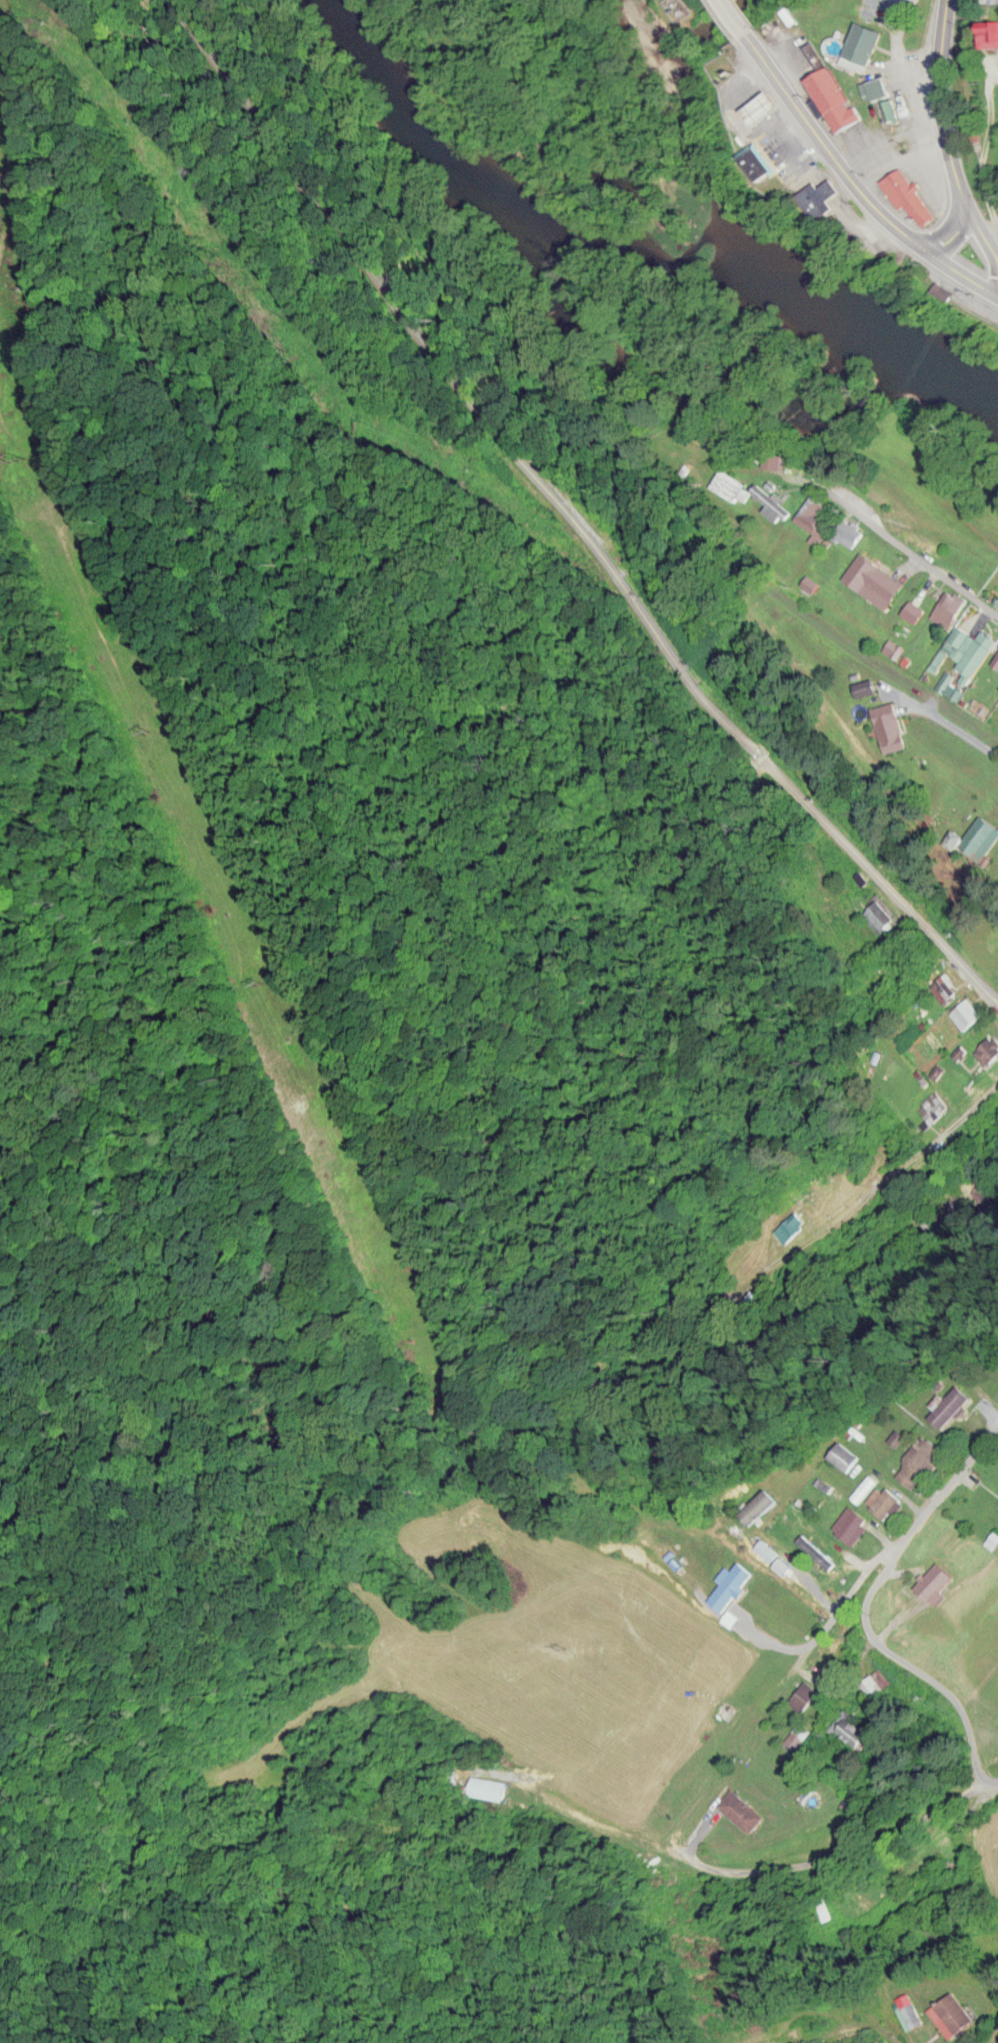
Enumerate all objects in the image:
building: (990, 33)
road: (898, 49)
building: (863, 51)
building: (815, 53)
building: (876, 87)
road: (935, 92)
building: (836, 108)
building: (764, 117)
gas station: (764, 117)
road: (820, 137)
building: (760, 161)
building: (910, 193)
building: (821, 196)
road: (976, 220)
road: (959, 223)
river: (631, 243)
road: (967, 273)
building: (774, 502)
building: (814, 512)
road: (534, 528)
building: (851, 532)
road: (914, 548)
building: (875, 575)
building: (951, 607)
building: (972, 648)
building: (890, 727)
building: (979, 837)
building: (880, 913)
building: (947, 987)
building: (969, 1013)
building: (991, 1048)
building: (936, 1107)
road: (863, 1201)
building: (793, 1225)
building: (952, 1405)
building: (845, 1455)
building: (920, 1461)
building: (886, 1501)
building: (759, 1509)
building: (852, 1523)
building: (768, 1549)
building: (940, 1582)
building: (733, 1584)
road: (872, 1621)
power tower: (564, 1643)
building: (833, 1656)
building: (875, 1685)
building: (807, 1695)
building: (857, 1728)
building: (489, 1787)
building: (746, 1809)
road: (553, 1813)
road: (832, 1873)
building: (911, 2009)
building: (955, 2014)
road: (997, 2041)

